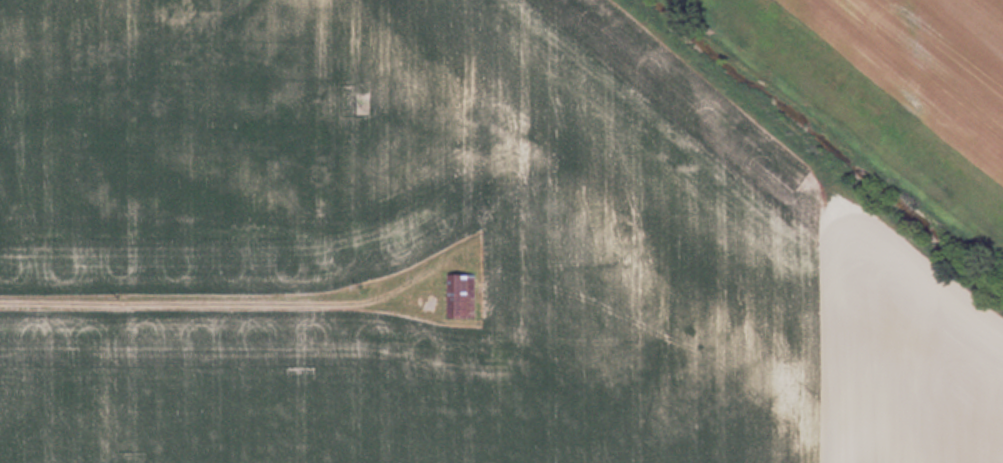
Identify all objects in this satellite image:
building: (464, 296)
road: (235, 302)

